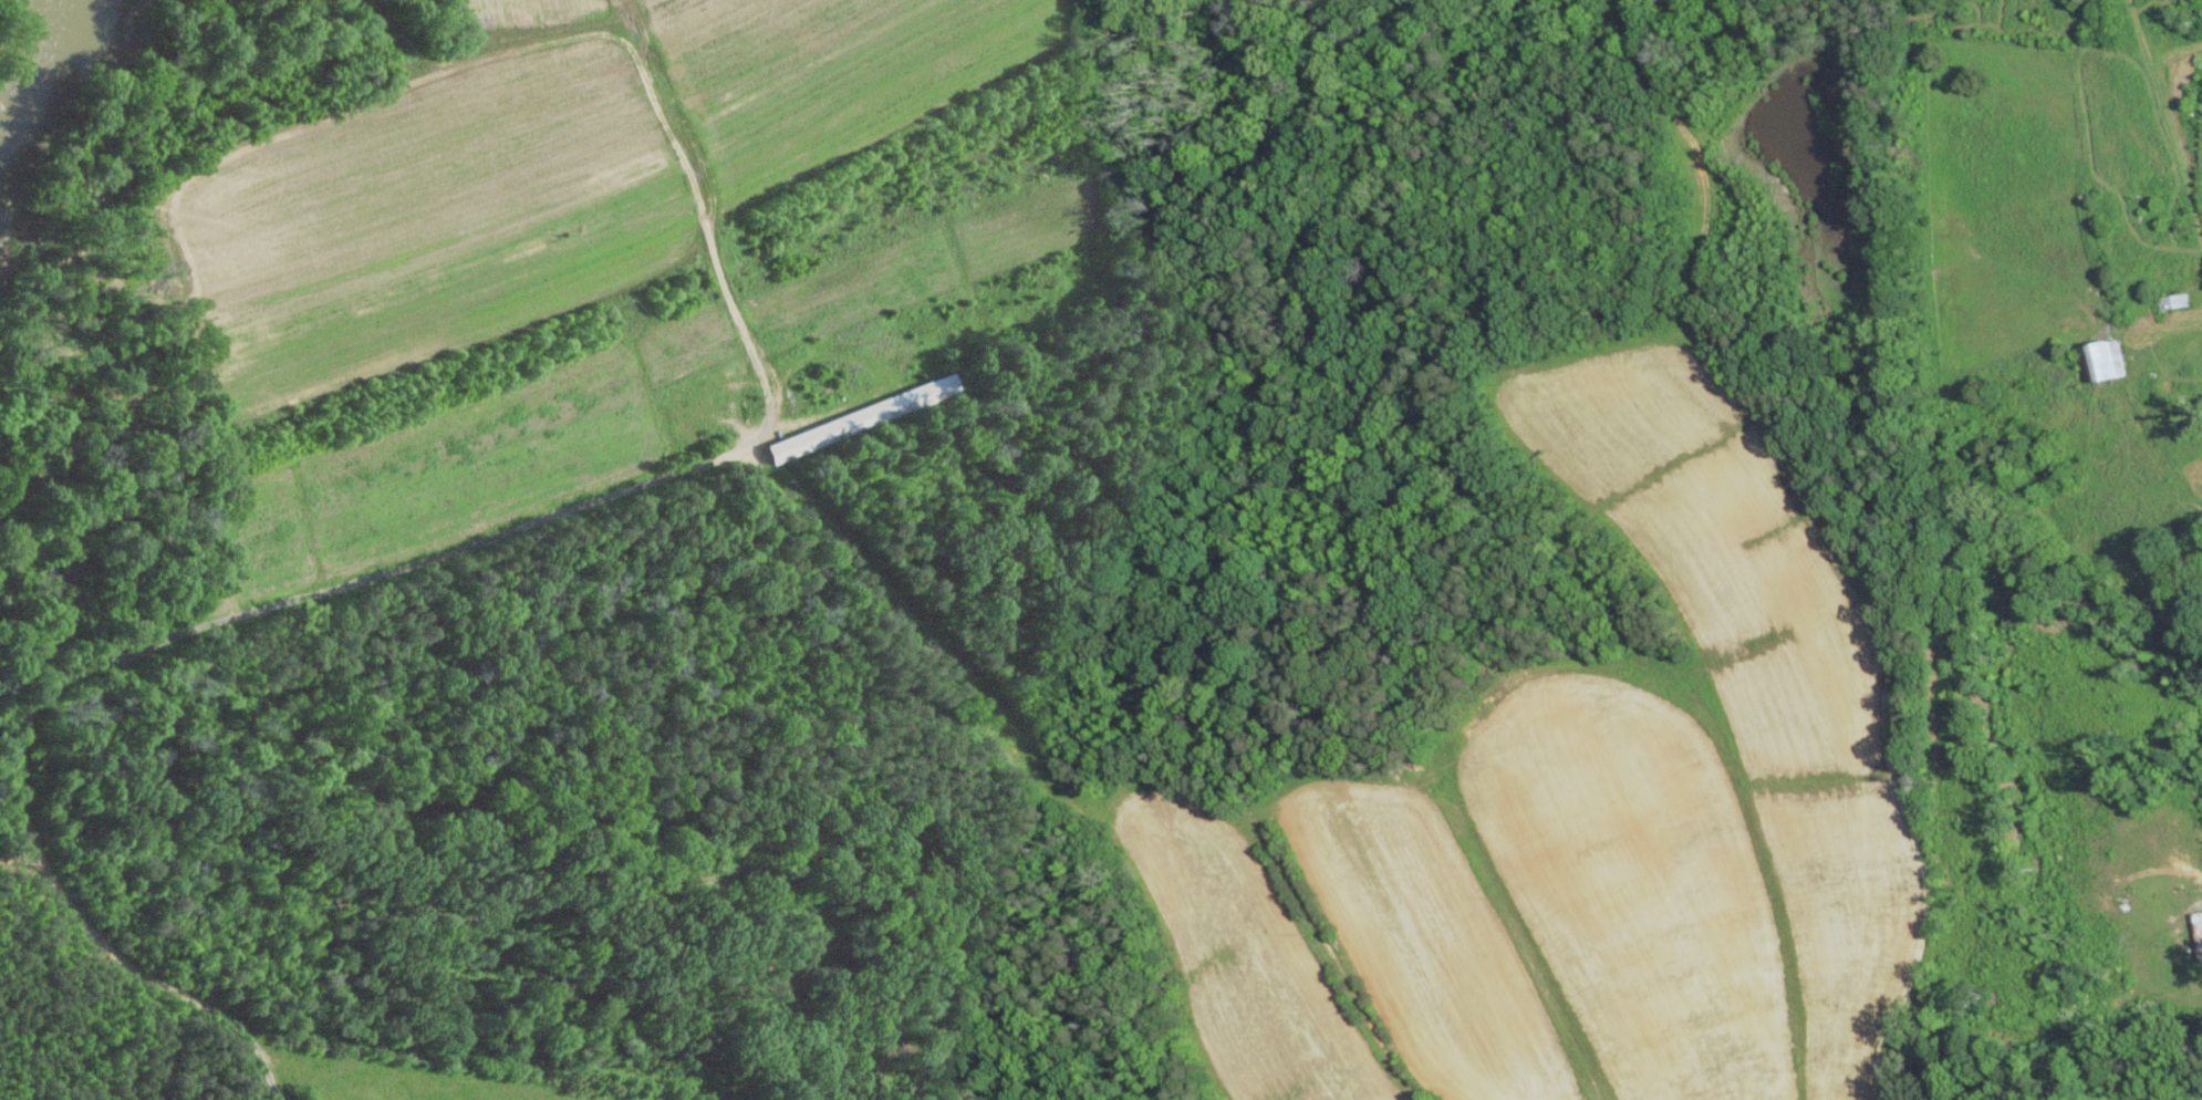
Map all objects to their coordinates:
river: (29, 64)
building: (2172, 300)
building: (2107, 359)
building: (862, 417)
road: (1409, 1096)

